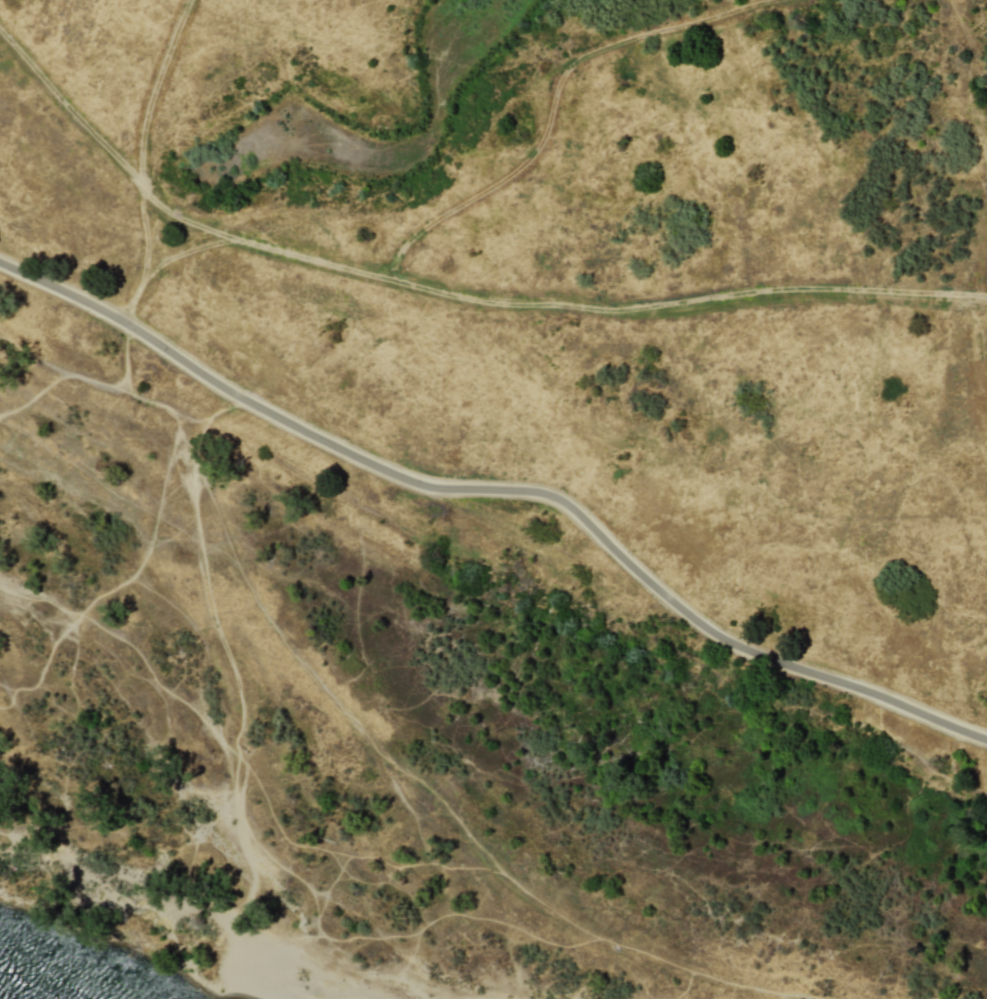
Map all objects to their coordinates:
road: (145, 128)
road: (977, 128)
road: (422, 203)
road: (979, 269)
road: (449, 295)
road: (500, 491)
road: (494, 565)
river: (24, 984)

